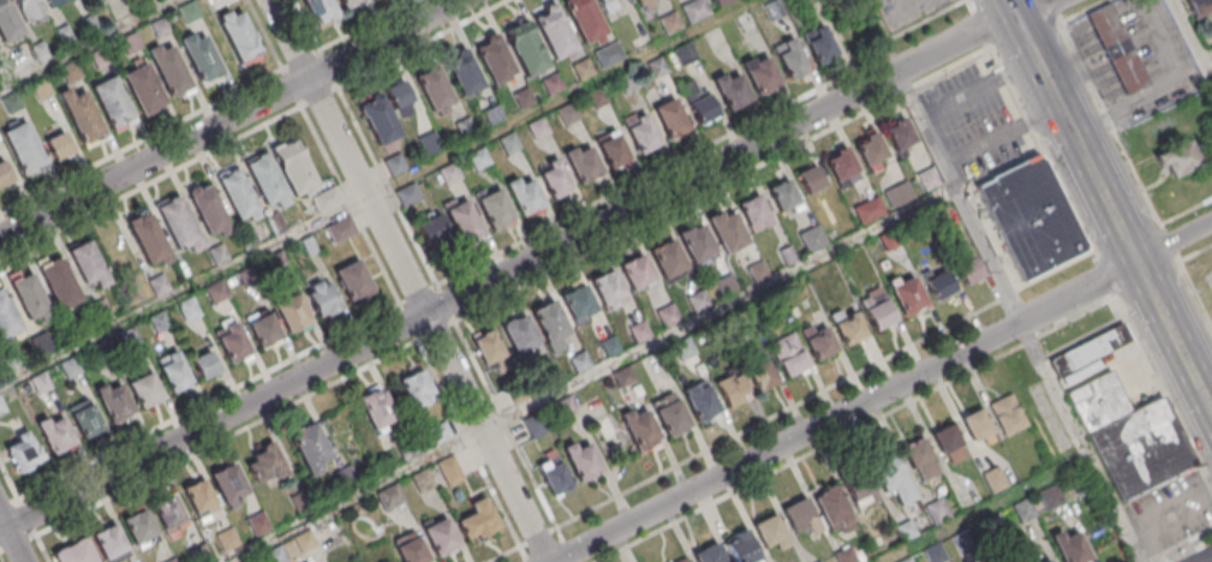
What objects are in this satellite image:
building: (721, 1)
building: (806, 1)
building: (54, 2)
building: (222, 2)
building: (347, 2)
building: (609, 4)
building: (646, 4)
road: (971, 6)
building: (1198, 6)
road: (1056, 8)
building: (30, 10)
building: (318, 10)
building: (776, 10)
building: (695, 11)
parking lot: (907, 11)
building: (190, 12)
building: (584, 20)
building: (10, 22)
building: (91, 23)
building: (671, 24)
building: (162, 29)
building: (553, 31)
road: (981, 31)
building: (65, 34)
road: (265, 35)
building: (241, 37)
road: (1193, 37)
building: (820, 43)
road: (89, 44)
building: (133, 44)
building: (526, 48)
building: (1117, 48)
building: (40, 49)
building: (202, 54)
building: (687, 54)
building: (609, 56)
building: (790, 58)
building: (102, 59)
building: (495, 61)
building: (657, 67)
building: (584, 70)
building: (173, 71)
building: (73, 72)
building: (464, 72)
building: (764, 74)
building: (628, 84)
building: (553, 85)
building: (145, 89)
building: (435, 89)
road: (978, 89)
building: (43, 90)
building: (735, 92)
building: (400, 98)
building: (525, 100)
building: (599, 100)
road: (345, 101)
building: (115, 102)
building: (14, 103)
building: (701, 107)
building: (569, 115)
building: (85, 116)
road: (232, 118)
building: (671, 118)
building: (380, 121)
building: (538, 131)
building: (643, 133)
building: (900, 136)
road: (1002, 138)
road: (142, 143)
building: (430, 144)
building: (58, 145)
building: (511, 145)
building: (25, 148)
building: (870, 149)
building: (614, 151)
road: (692, 156)
road: (1045, 156)
building: (1178, 157)
building: (479, 160)
road: (938, 162)
building: (840, 165)
building: (293, 166)
building: (395, 166)
building: (584, 166)
road: (1135, 172)
building: (4, 173)
building: (449, 175)
building: (551, 178)
building: (265, 179)
building: (813, 179)
building: (930, 179)
road: (149, 184)
road: (1101, 190)
road: (376, 191)
building: (903, 192)
building: (238, 195)
road: (705, 195)
building: (784, 196)
building: (408, 197)
building: (326, 198)
building: (526, 198)
road: (350, 205)
building: (210, 211)
building: (496, 211)
building: (870, 211)
building: (756, 214)
building: (461, 219)
building: (1031, 219)
building: (274, 221)
building: (179, 223)
building: (340, 228)
building: (432, 229)
building: (728, 231)
building: (247, 238)
building: (150, 240)
building: (814, 240)
building: (697, 243)
building: (308, 244)
building: (217, 252)
building: (667, 257)
building: (789, 257)
building: (275, 261)
road: (533, 261)
building: (90, 264)
building: (637, 271)
building: (969, 271)
building: (759, 273)
building: (352, 279)
road: (408, 281)
road: (1106, 282)
building: (61, 283)
building: (159, 283)
building: (728, 286)
building: (939, 286)
building: (608, 287)
building: (217, 292)
building: (907, 294)
building: (321, 298)
building: (31, 299)
building: (578, 303)
building: (698, 303)
building: (187, 309)
building: (877, 309)
building: (289, 310)
building: (668, 316)
building: (7, 318)
building: (548, 318)
building: (159, 321)
building: (262, 328)
building: (849, 329)
building: (519, 333)
building: (640, 333)
building: (129, 336)
building: (41, 342)
building: (232, 343)
building: (819, 345)
building: (610, 347)
building: (1089, 349)
building: (491, 352)
building: (788, 355)
building: (581, 363)
building: (204, 364)
building: (70, 366)
building: (173, 372)
building: (762, 376)
road: (592, 377)
building: (551, 378)
building: (625, 378)
building: (40, 381)
building: (144, 388)
building: (416, 389)
building: (733, 389)
road: (885, 393)
building: (517, 394)
road: (1164, 396)
road: (1204, 397)
building: (114, 402)
road: (210, 403)
building: (701, 403)
building: (1, 407)
building: (375, 407)
building: (568, 408)
building: (1007, 413)
building: (84, 417)
building: (671, 418)
building: (977, 425)
building: (536, 426)
building: (640, 428)
road: (245, 430)
building: (54, 434)
building: (441, 435)
building: (1129, 437)
road: (1079, 443)
building: (949, 444)
building: (309, 447)
building: (23, 450)
building: (407, 450)
building: (919, 460)
building: (581, 461)
building: (263, 465)
building: (450, 472)
building: (555, 477)
building: (347, 478)
road: (10, 480)
building: (891, 480)
building: (423, 482)
building: (228, 485)
building: (860, 492)
building: (1050, 496)
building: (199, 500)
building: (388, 500)
building: (301, 503)
building: (832, 510)
road: (986, 510)
building: (937, 512)
building: (168, 514)
building: (800, 516)
building: (478, 520)
road: (2, 522)
building: (259, 525)
building: (138, 528)
road: (2, 530)
building: (770, 532)
building: (440, 536)
road: (541, 537)
building: (228, 540)
building: (305, 543)
road: (1177, 544)
road: (13, 545)
building: (741, 546)
building: (1069, 546)
building: (94, 548)
building: (408, 548)
building: (709, 554)
building: (201, 555)
building: (276, 555)
road: (1207, 560)
building: (173, 561)
building: (682, 561)
building: (820, 561)
building: (1045, 561)

